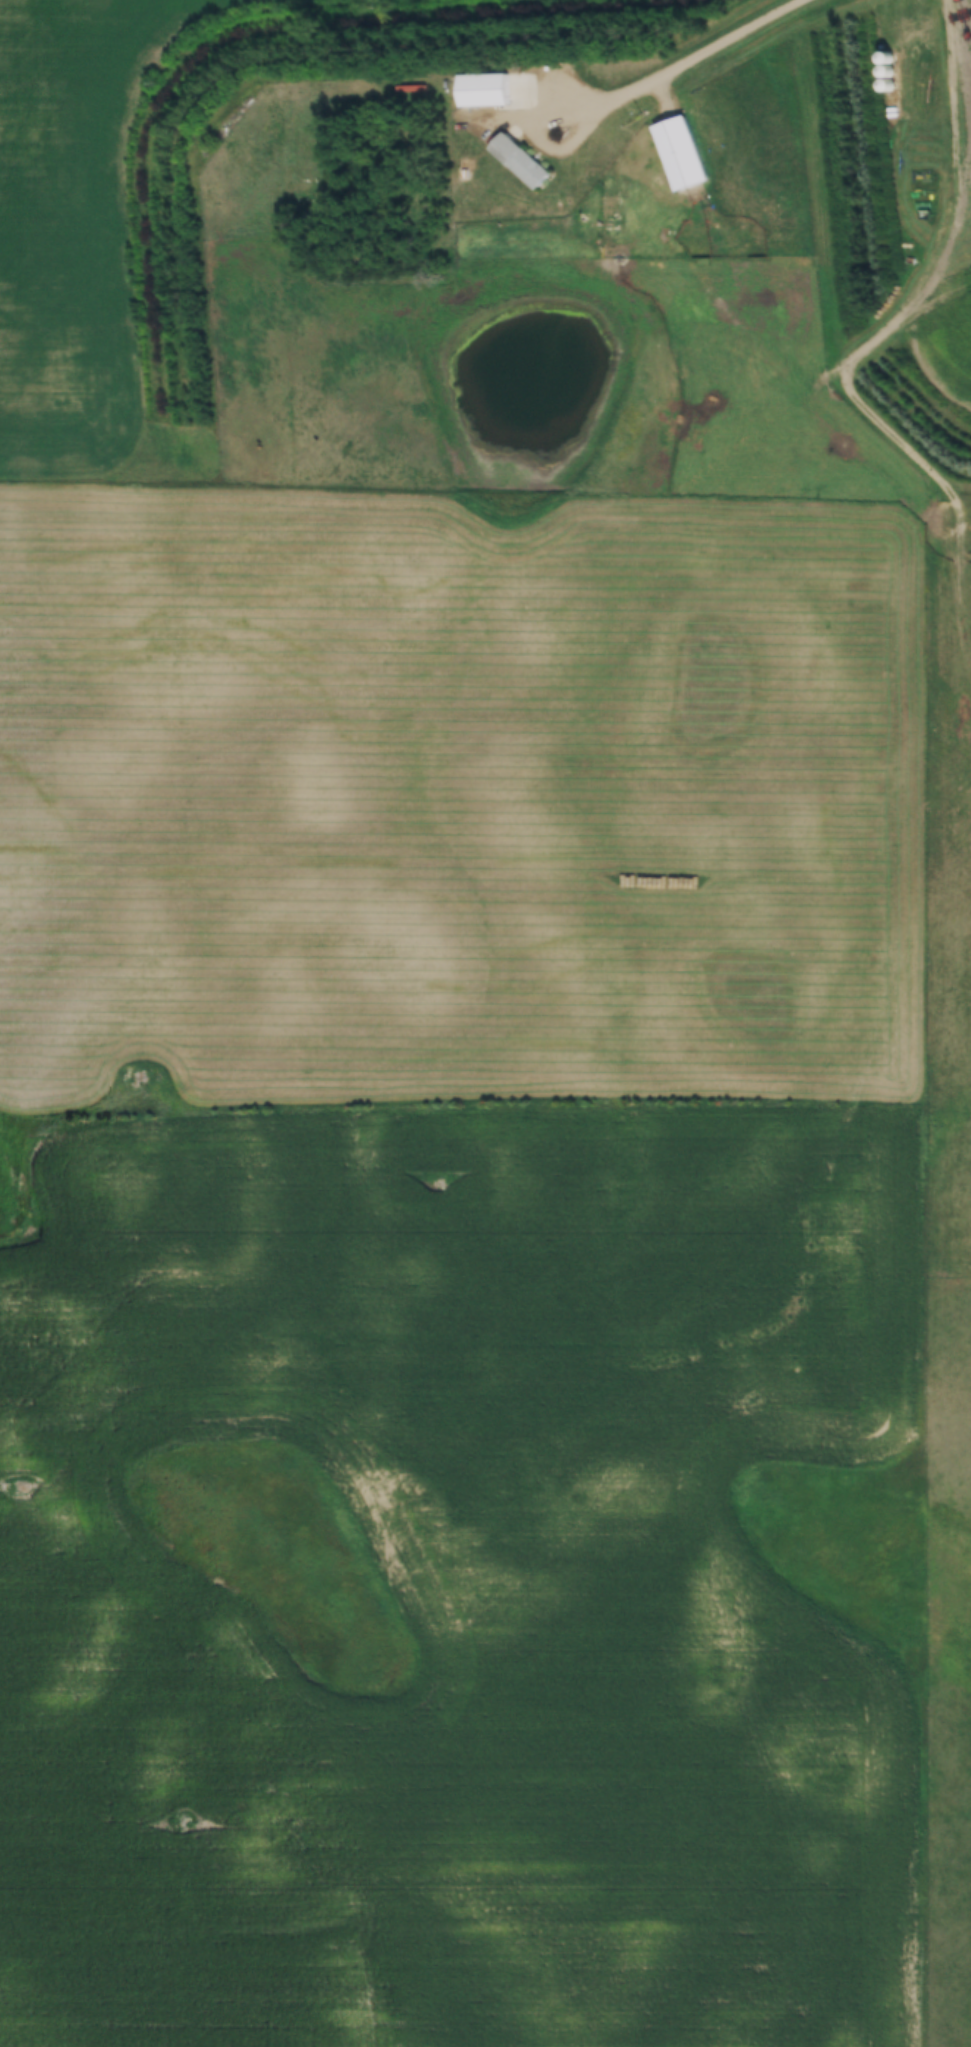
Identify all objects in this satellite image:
road: (643, 83)
building: (485, 91)
building: (520, 162)

